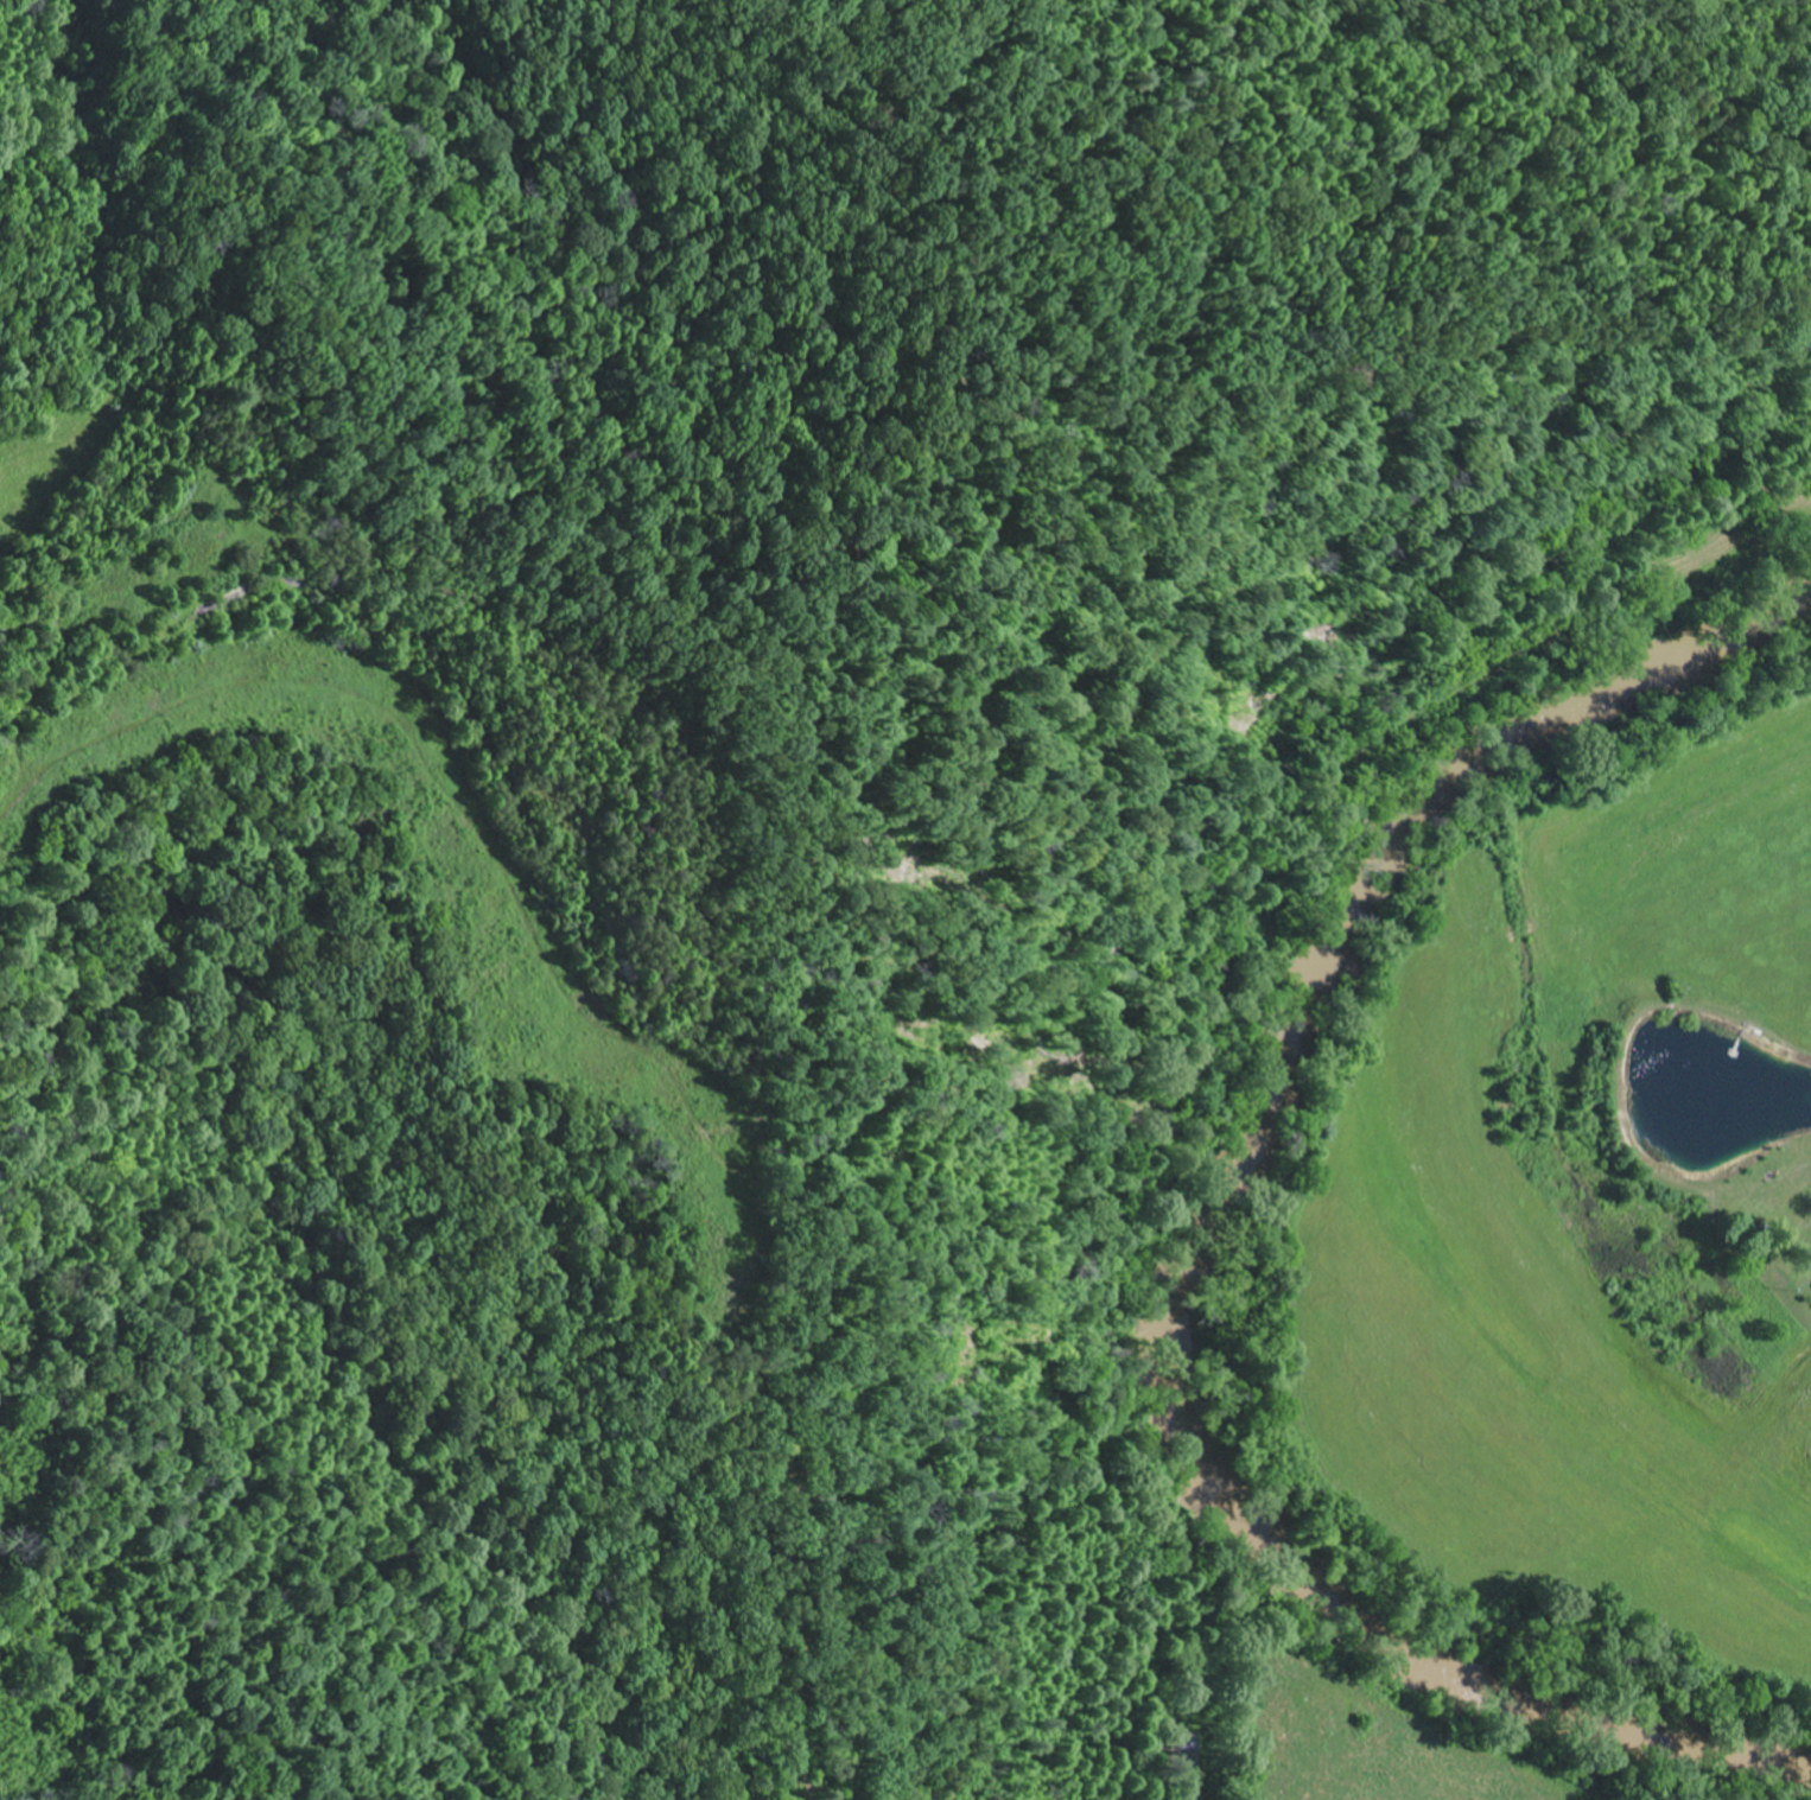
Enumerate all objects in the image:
river: (1202, 1247)

